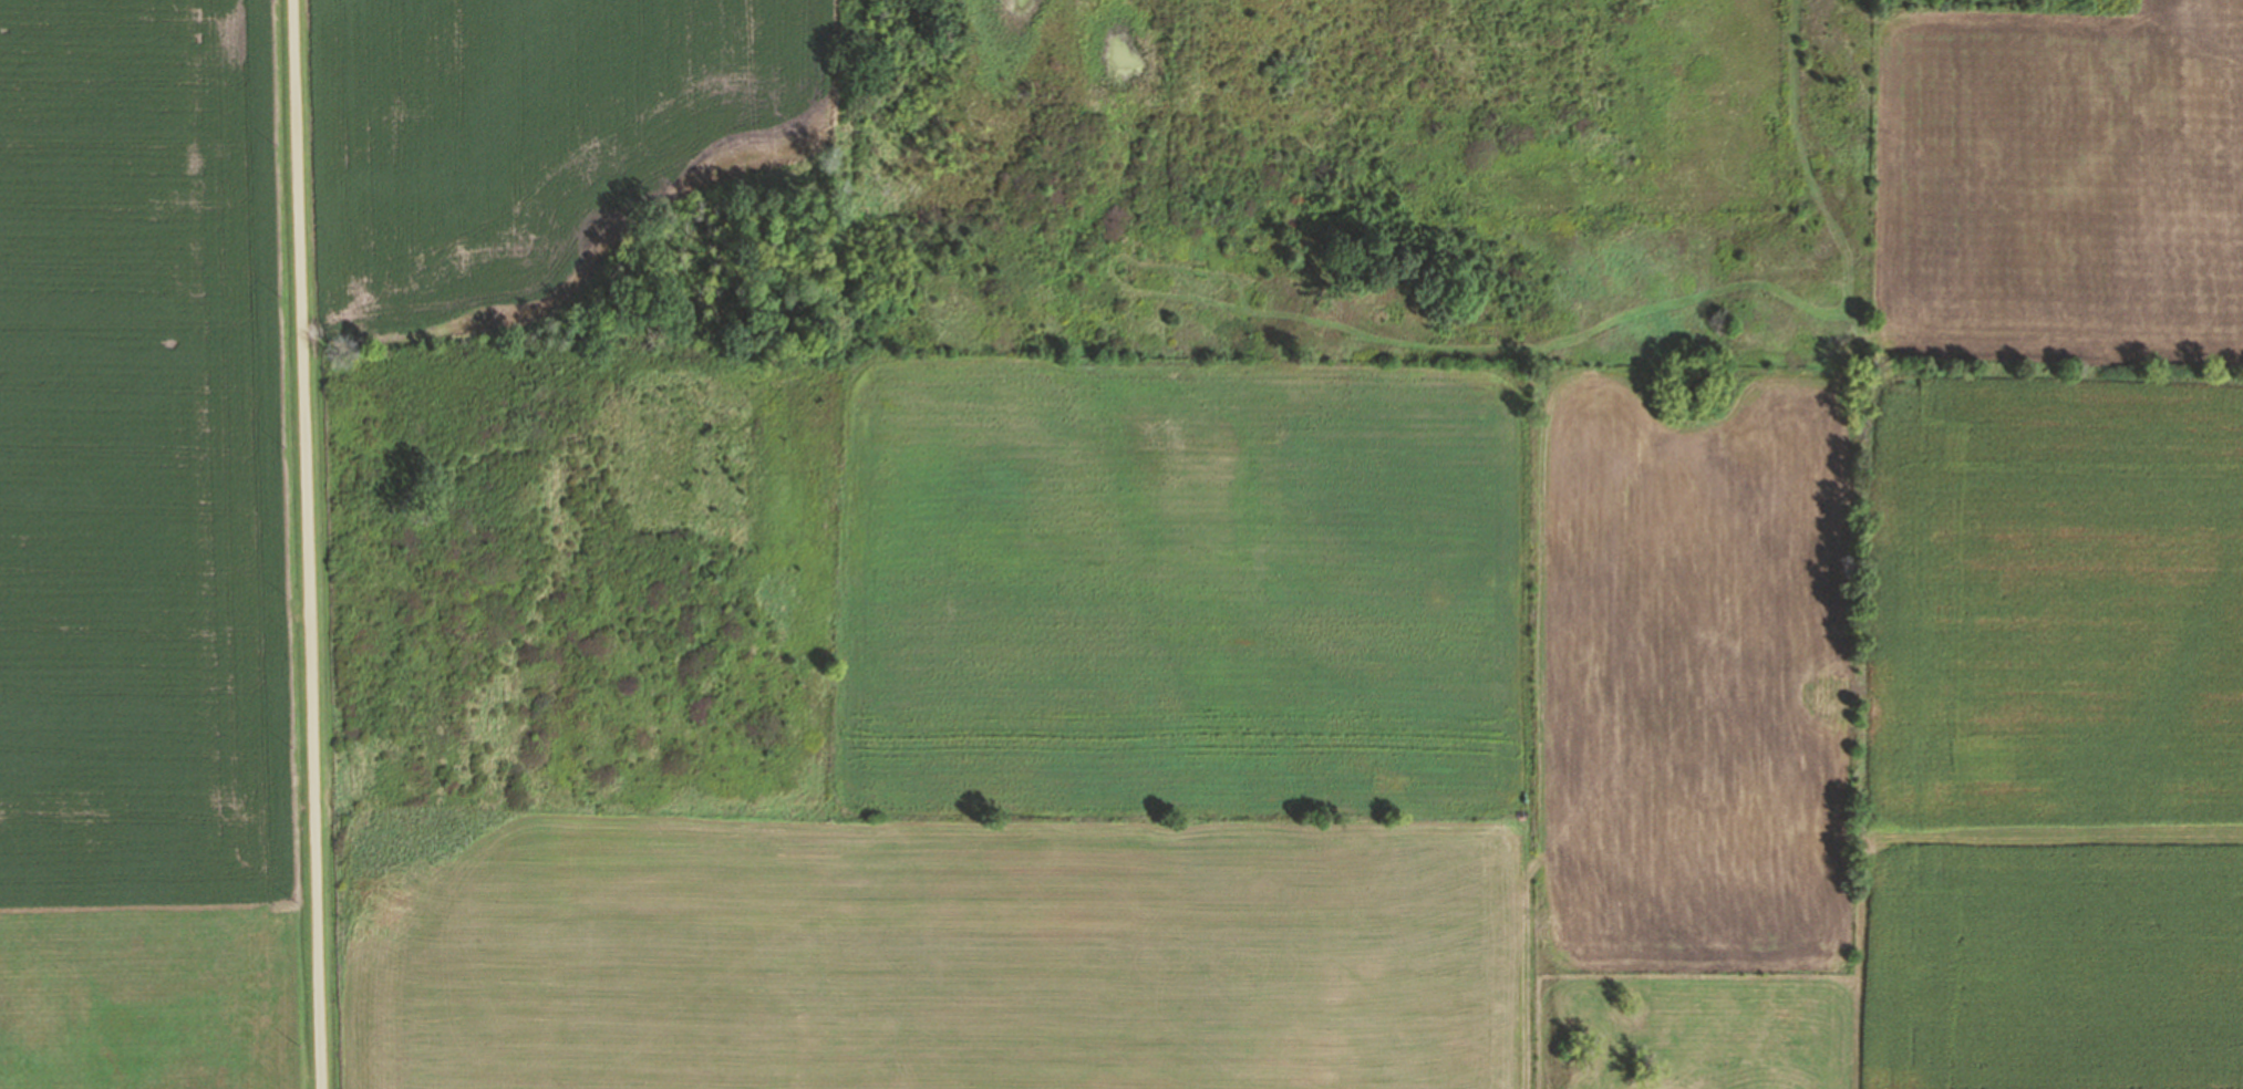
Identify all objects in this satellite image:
road: (306, 544)

